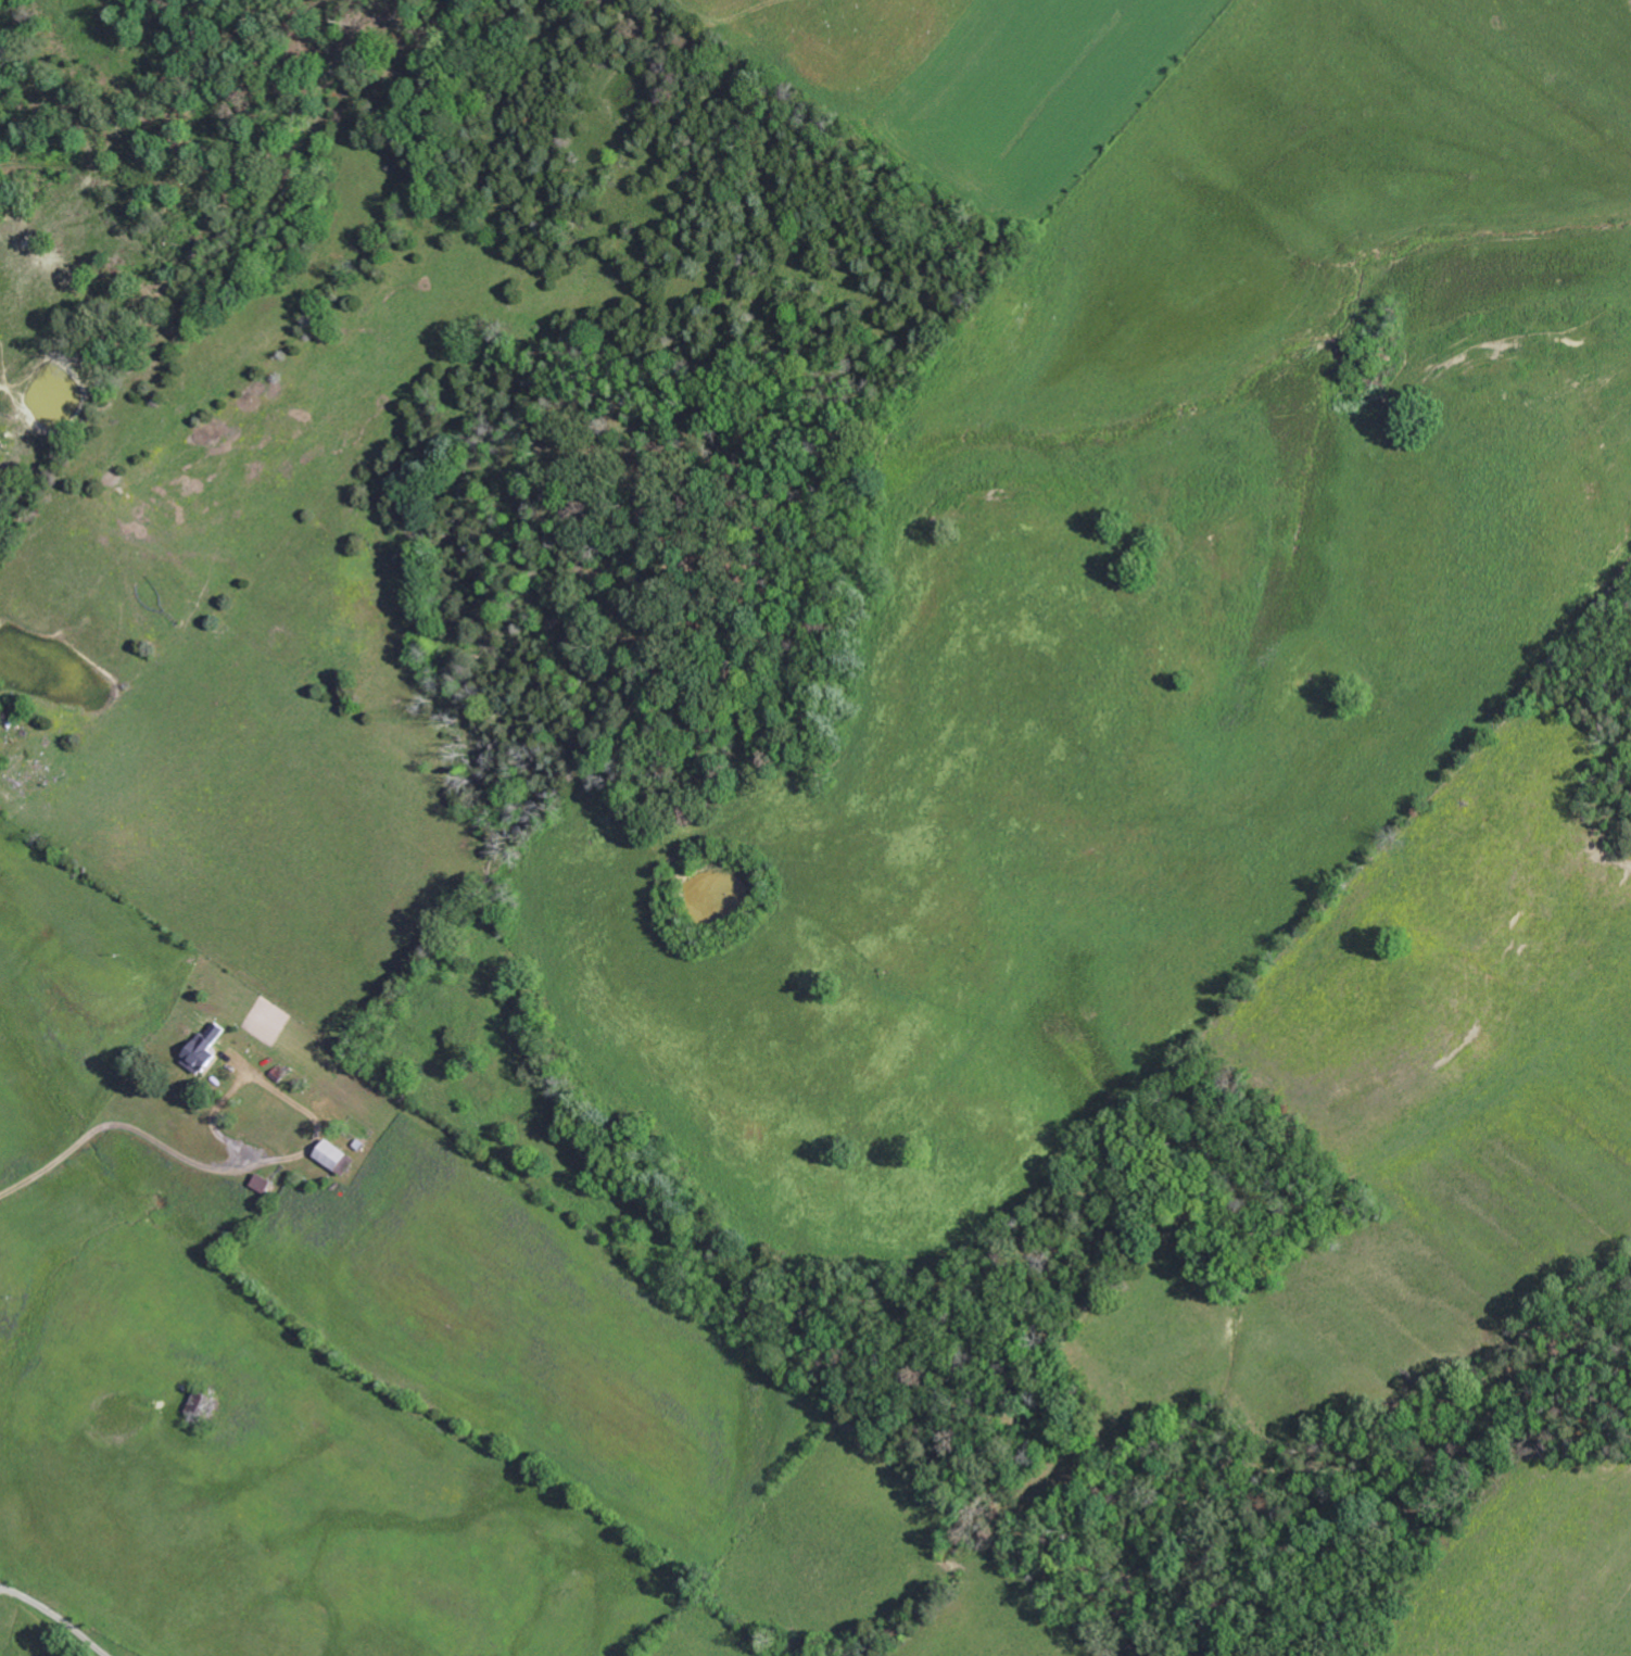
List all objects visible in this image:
building: (205, 1049)
building: (334, 1154)

